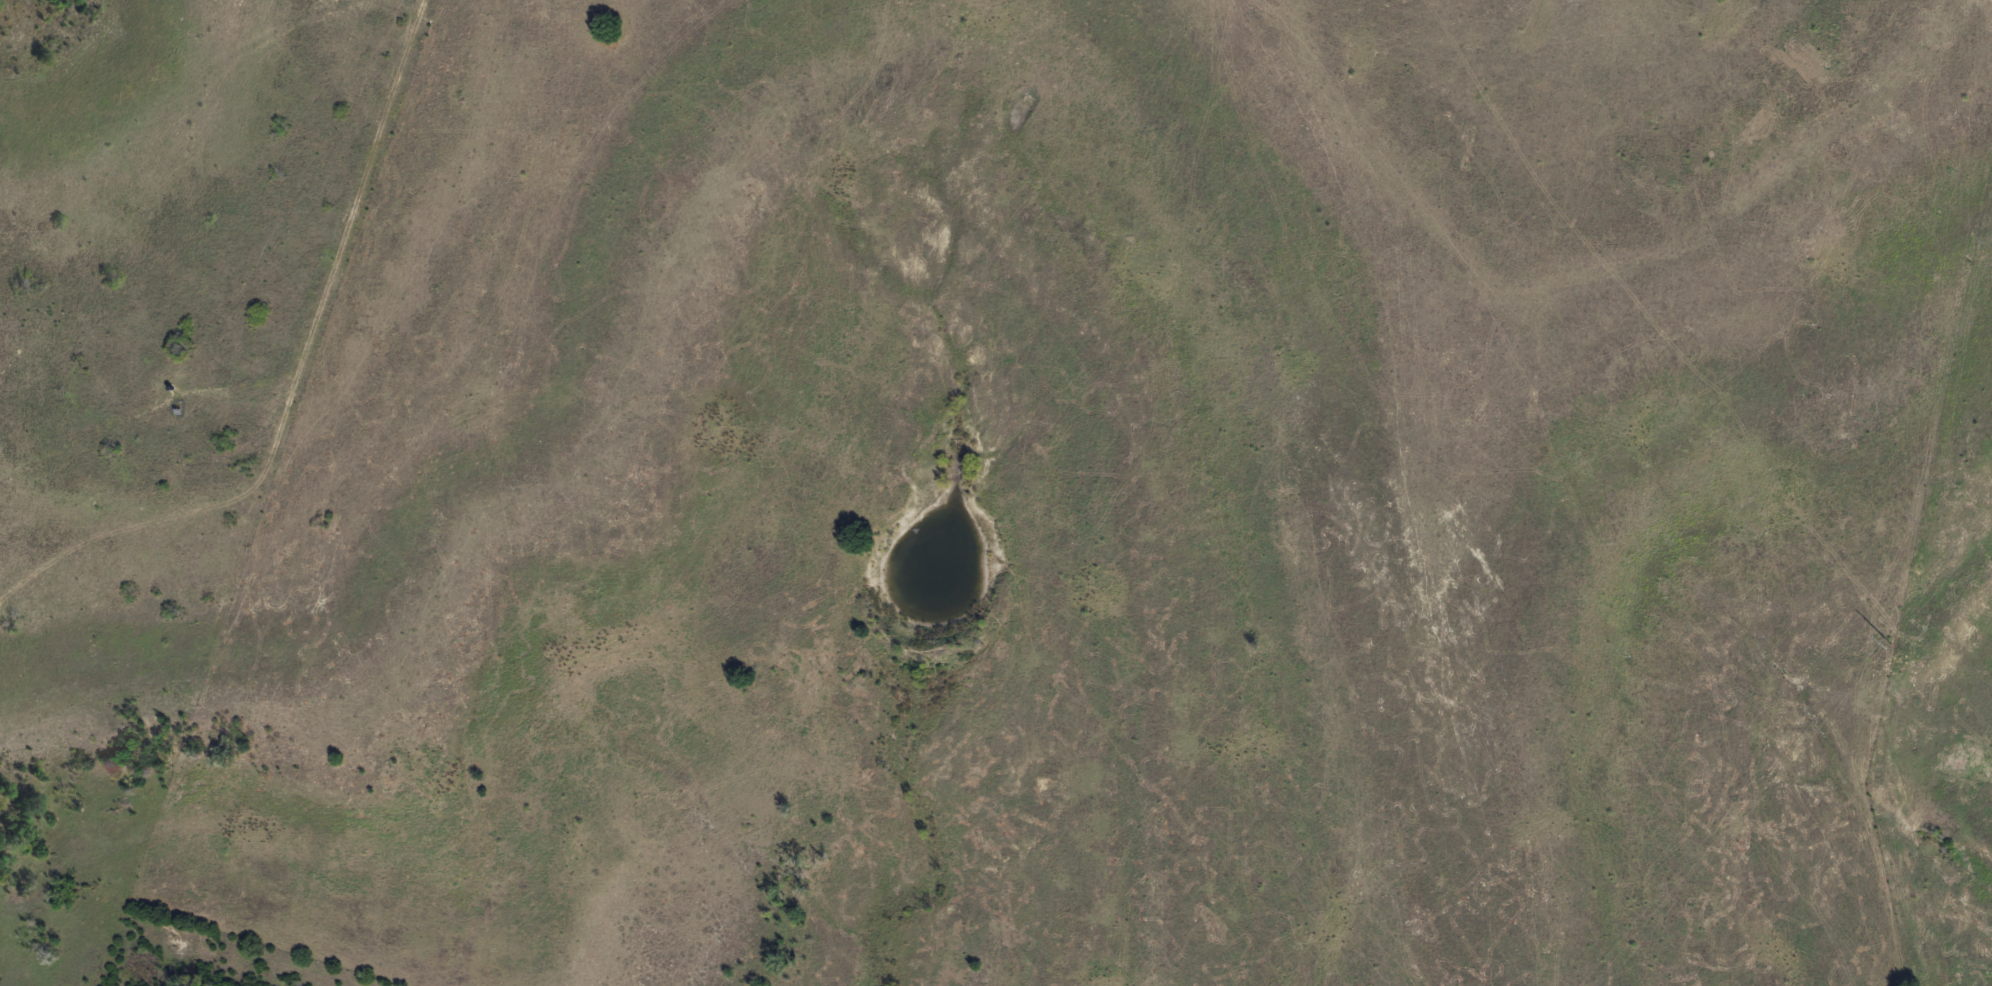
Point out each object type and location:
power tower: (1887, 639)

